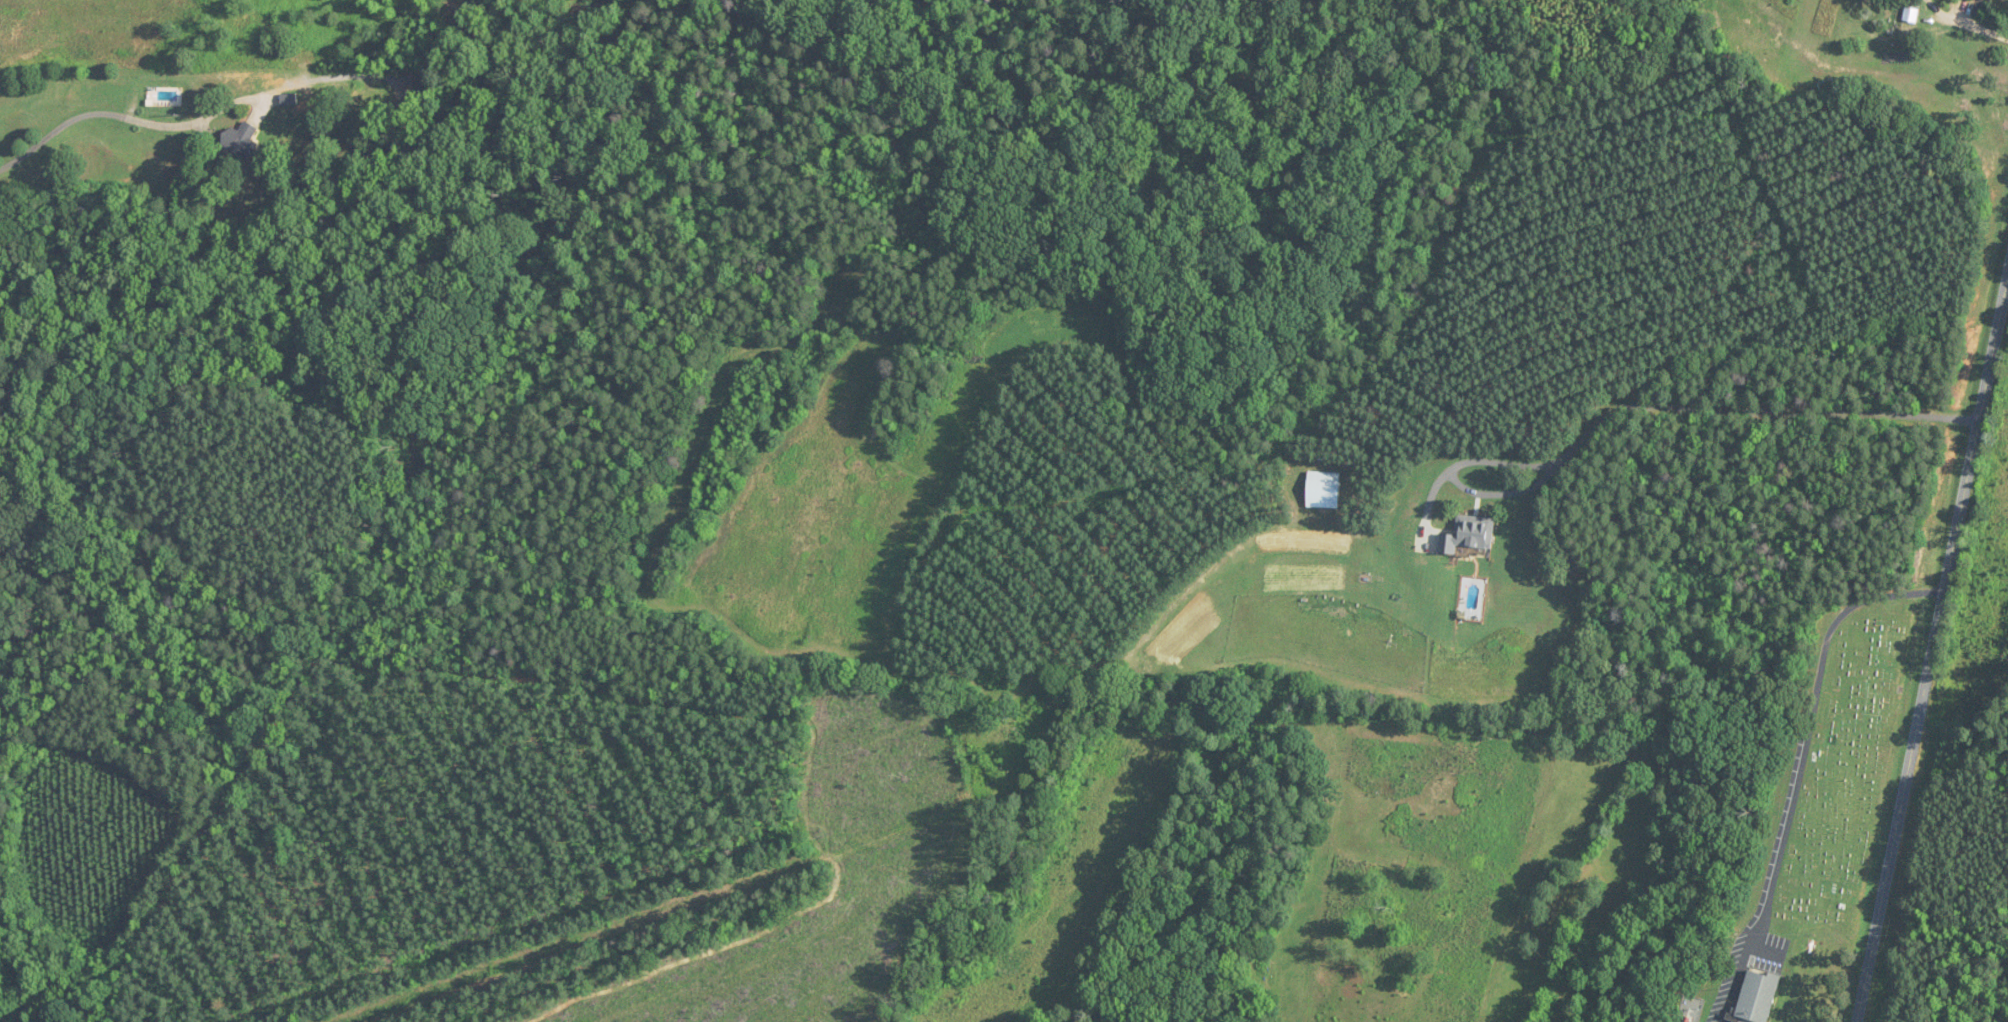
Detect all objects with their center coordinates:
building: (1910, 15)
road: (1980, 27)
road: (124, 116)
building: (244, 141)
road: (1637, 406)
building: (1467, 534)
road: (1934, 651)
road: (1502, 704)
park: (1847, 782)
road: (1787, 813)
building: (1757, 996)

